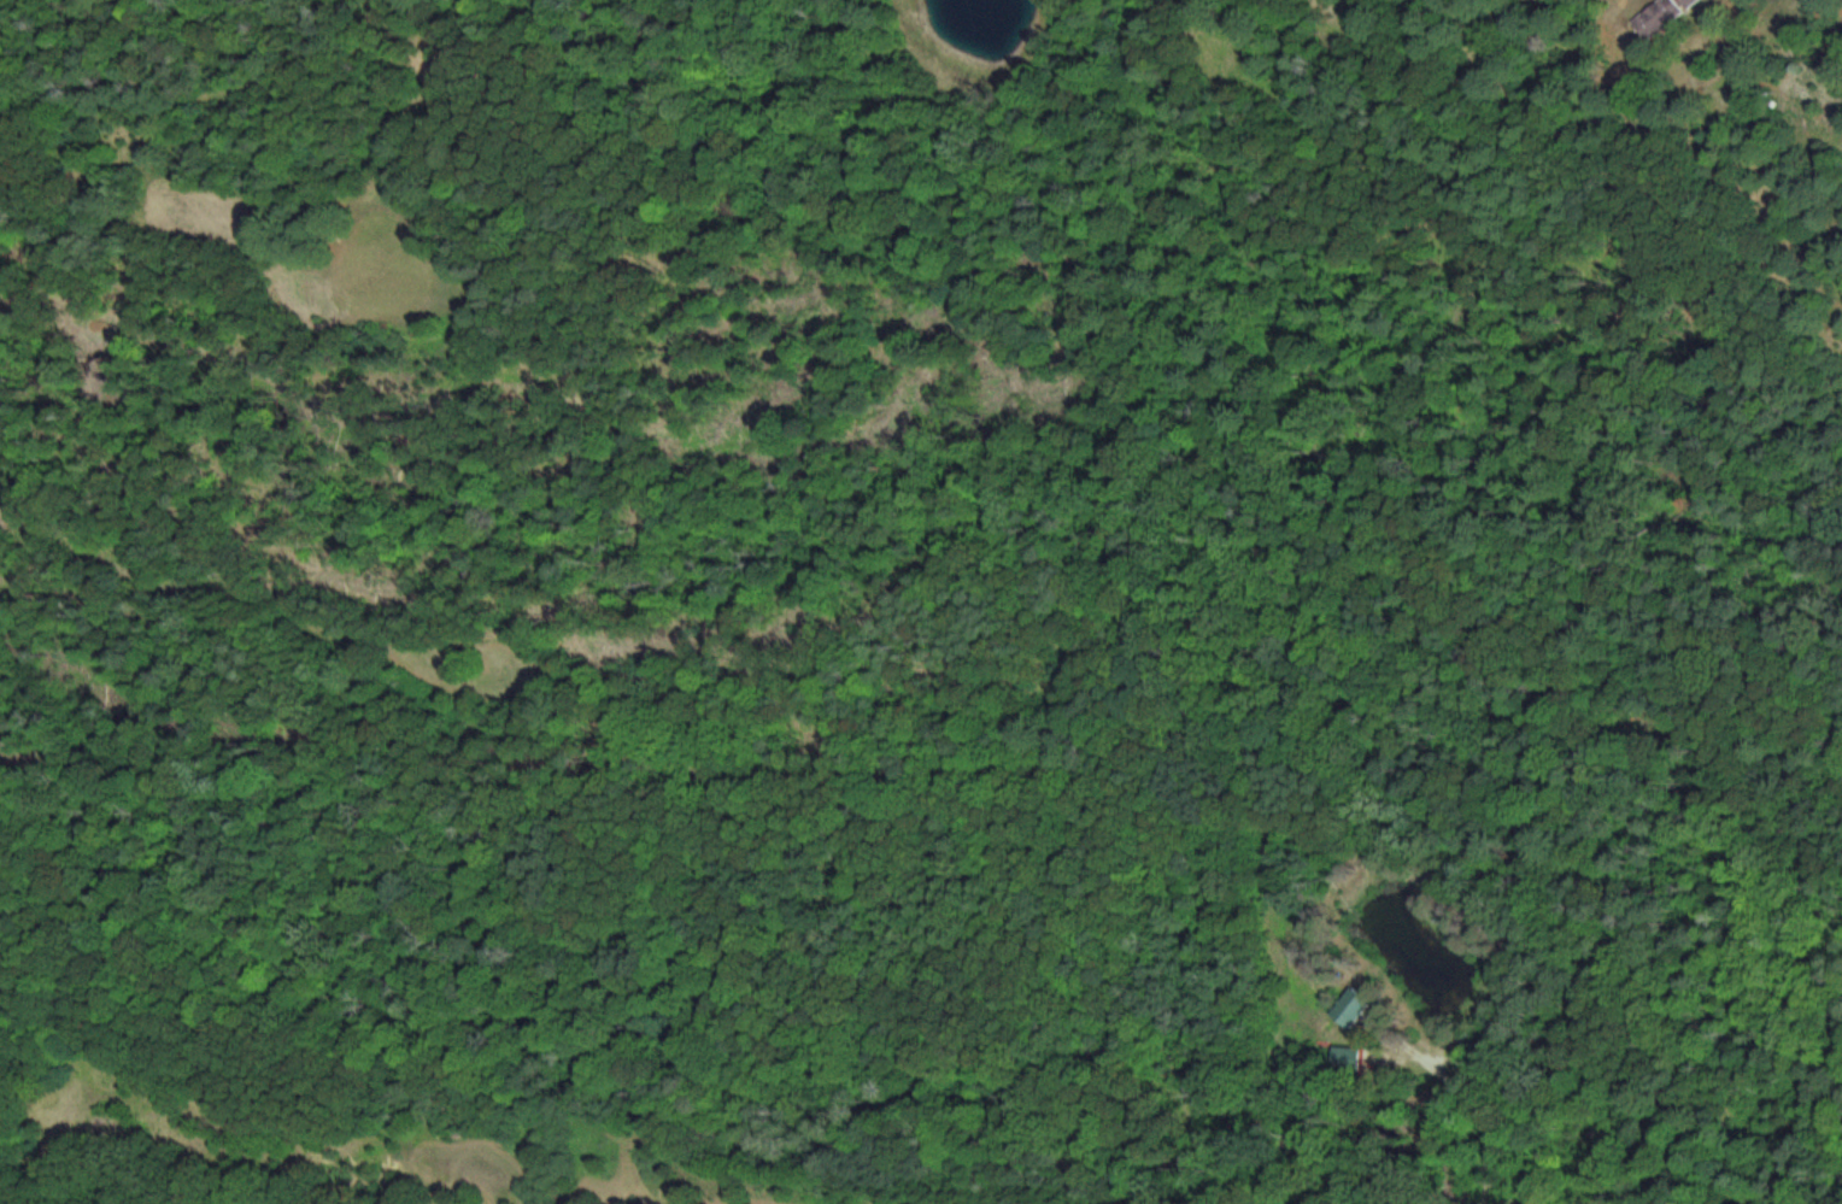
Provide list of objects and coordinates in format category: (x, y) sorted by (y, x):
building: (1661, 16)
building: (1350, 1009)
building: (1345, 1059)

